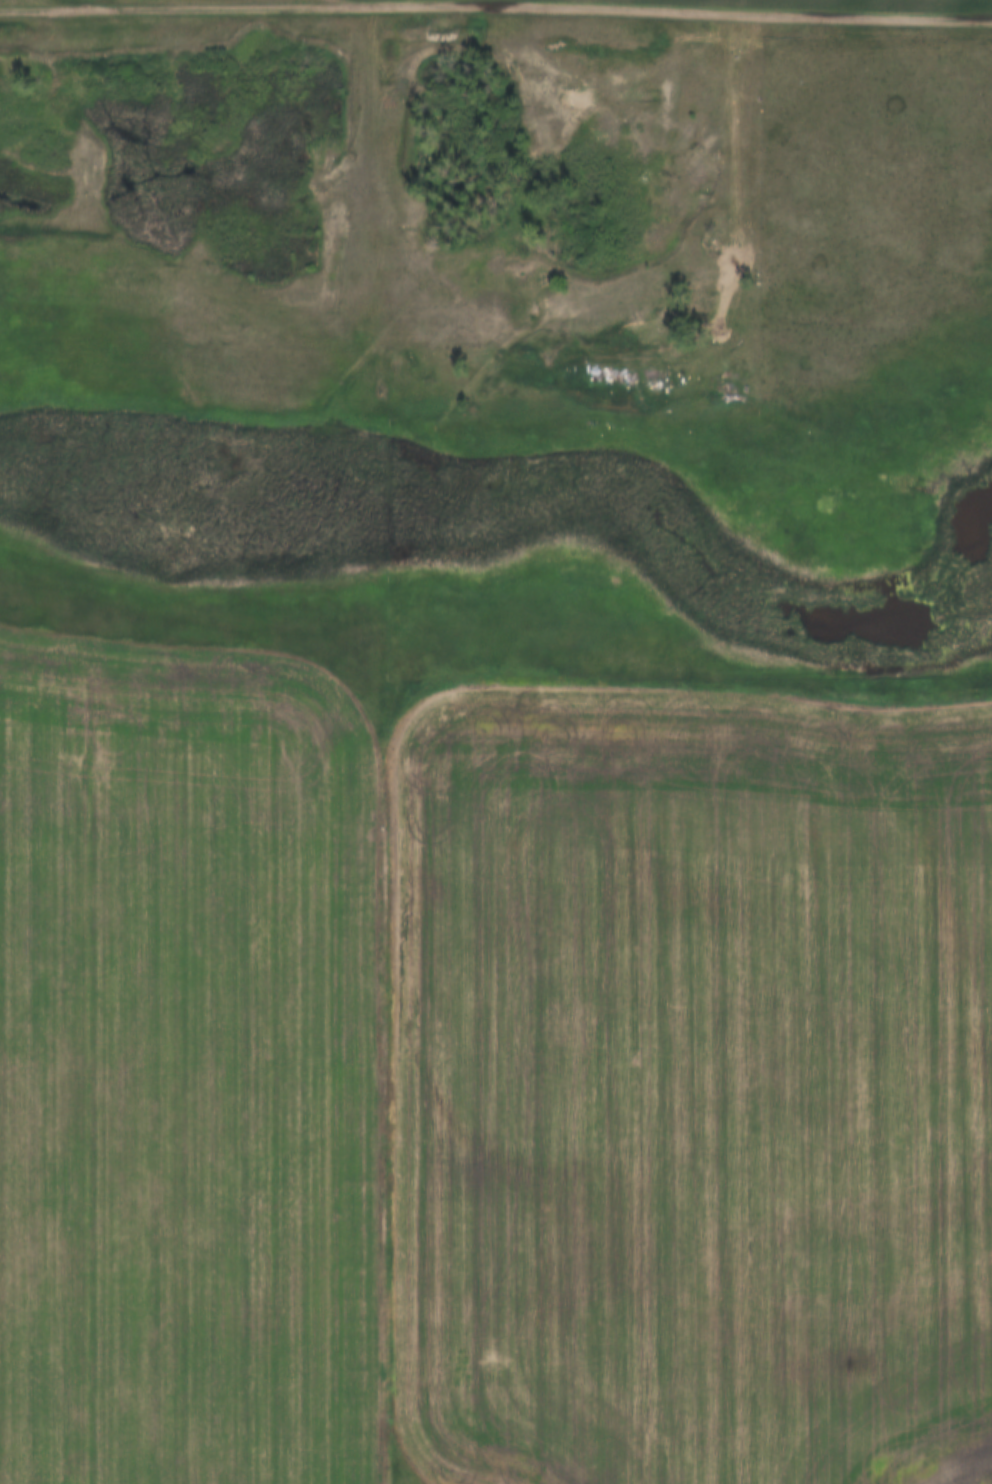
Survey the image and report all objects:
road: (496, 4)

